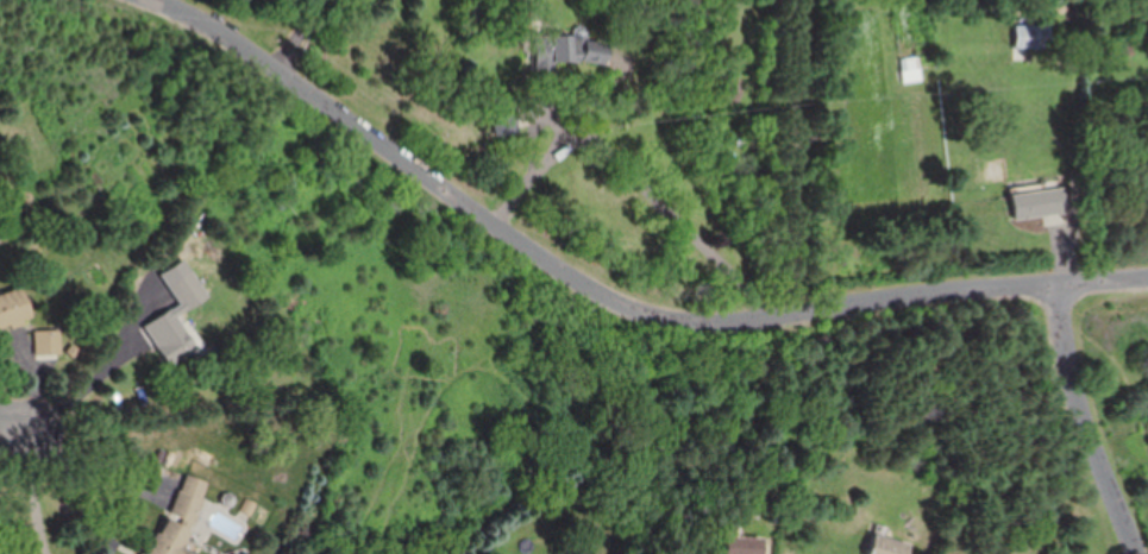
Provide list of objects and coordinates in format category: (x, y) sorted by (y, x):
road: (291, 33)
building: (1034, 34)
building: (566, 49)
building: (912, 68)
road: (793, 159)
road: (633, 182)
building: (1040, 201)
road: (608, 292)
building: (13, 306)
building: (172, 334)
building: (45, 340)
road: (93, 380)
road: (17, 414)
road: (1090, 421)
road: (36, 484)
building: (188, 497)
building: (167, 539)
building: (745, 544)
building: (890, 544)

